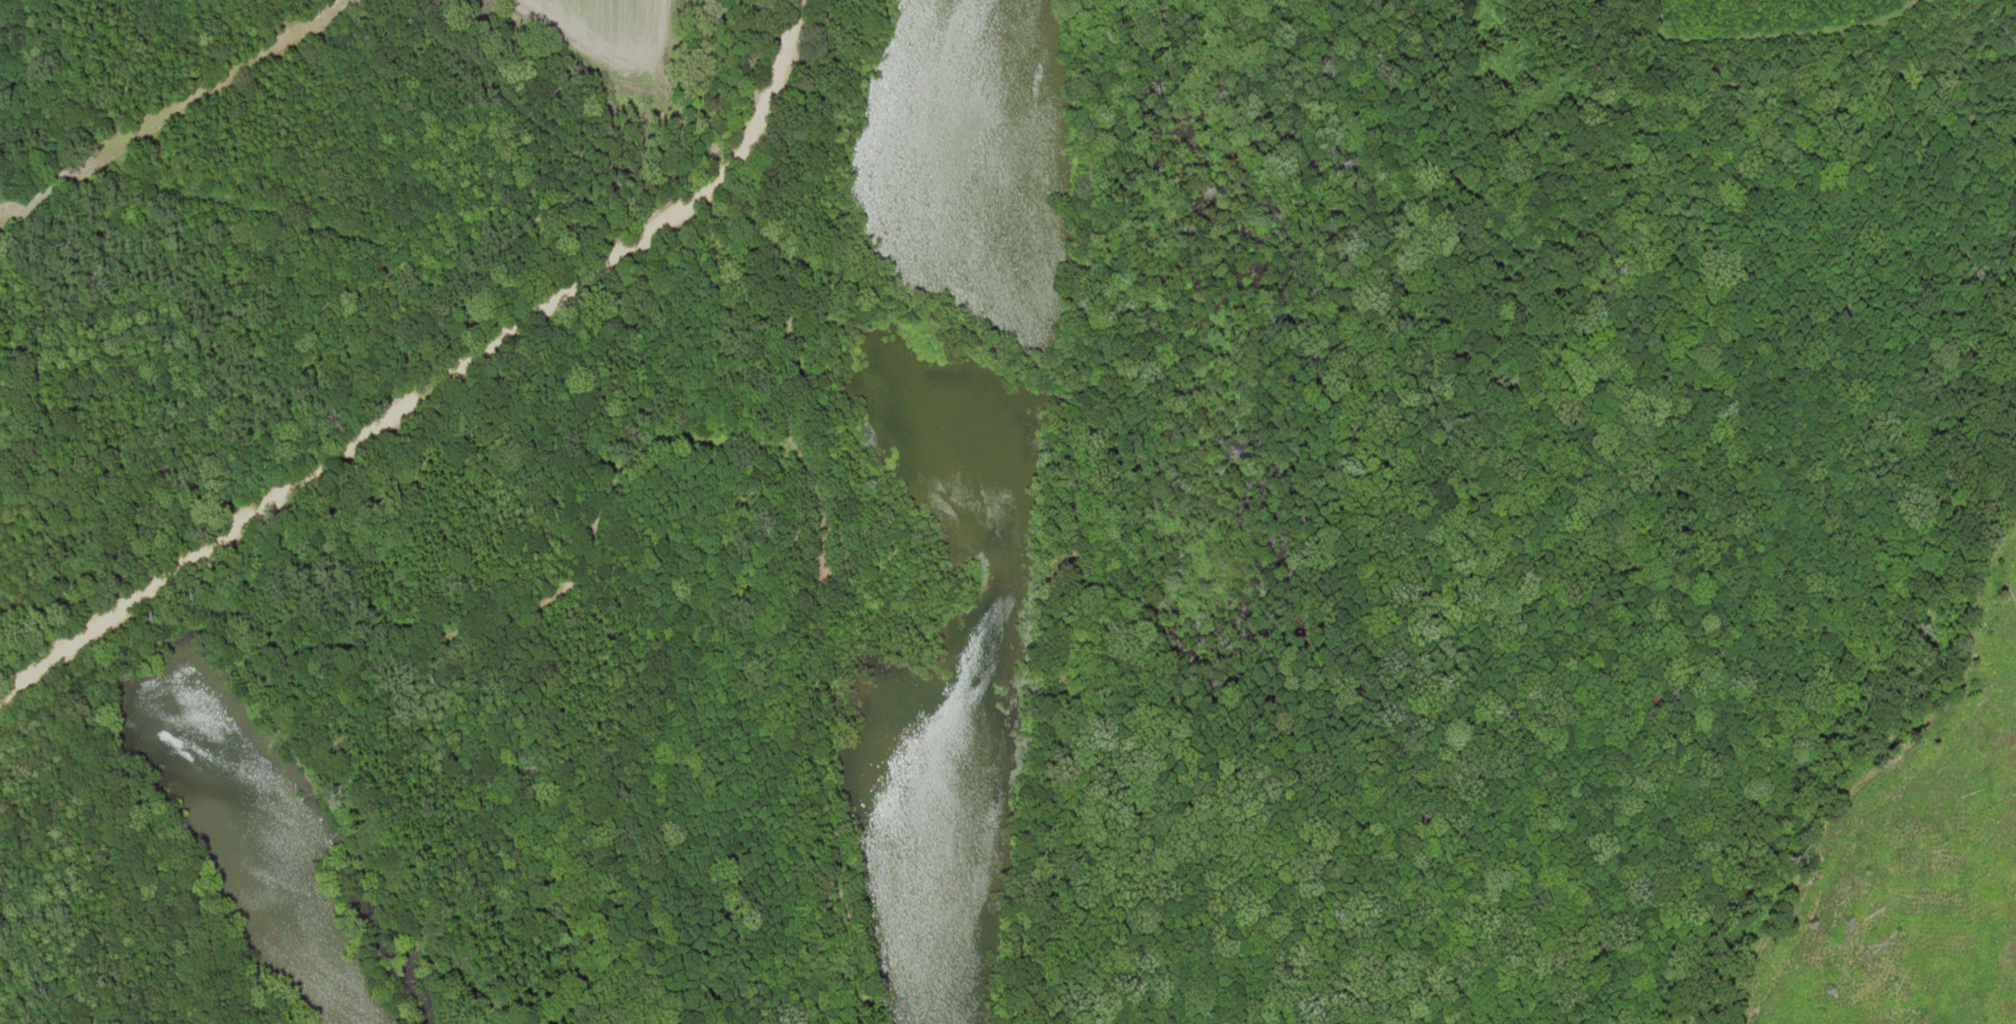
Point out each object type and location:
road: (440, 384)

